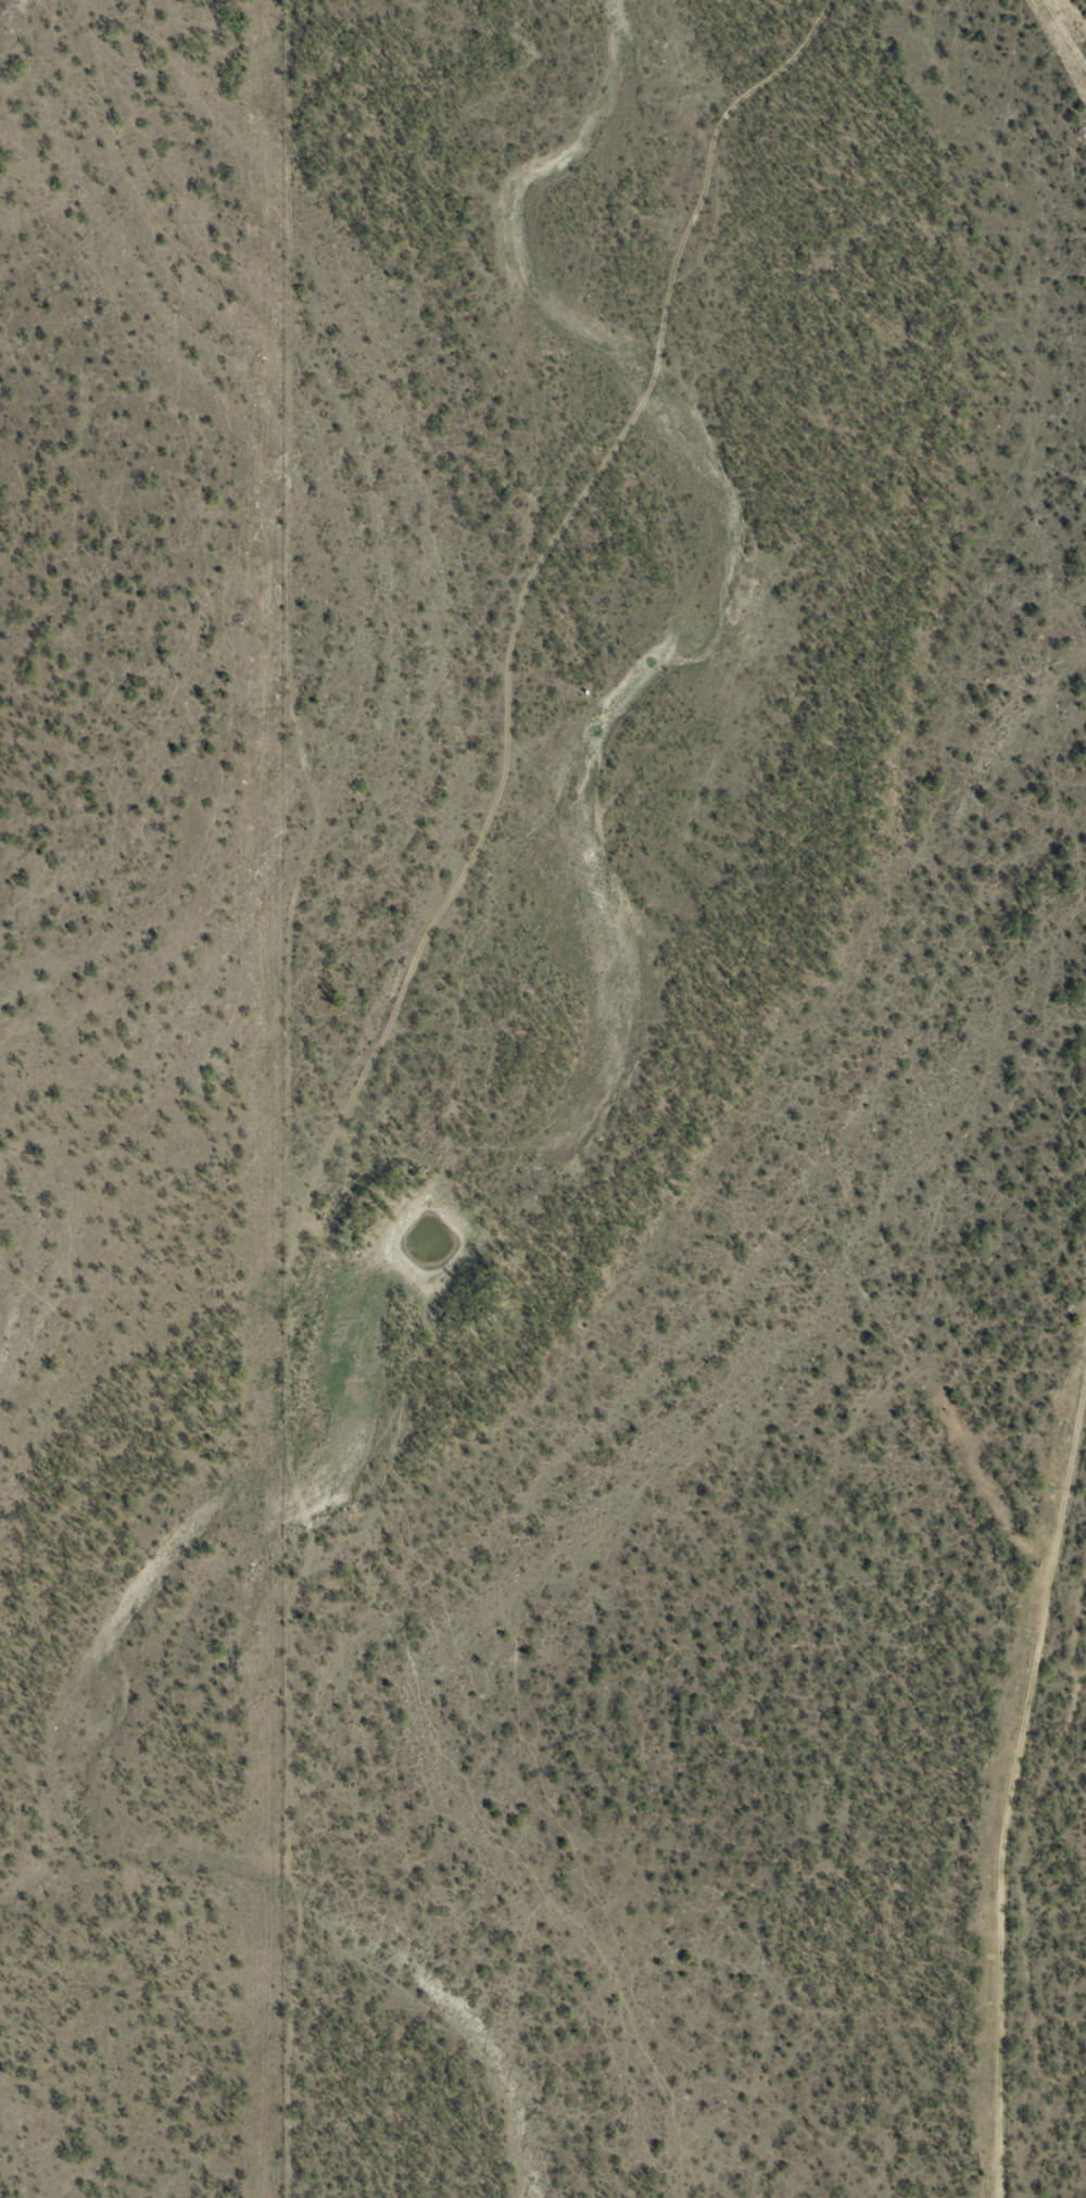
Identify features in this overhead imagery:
road: (1049, 58)

